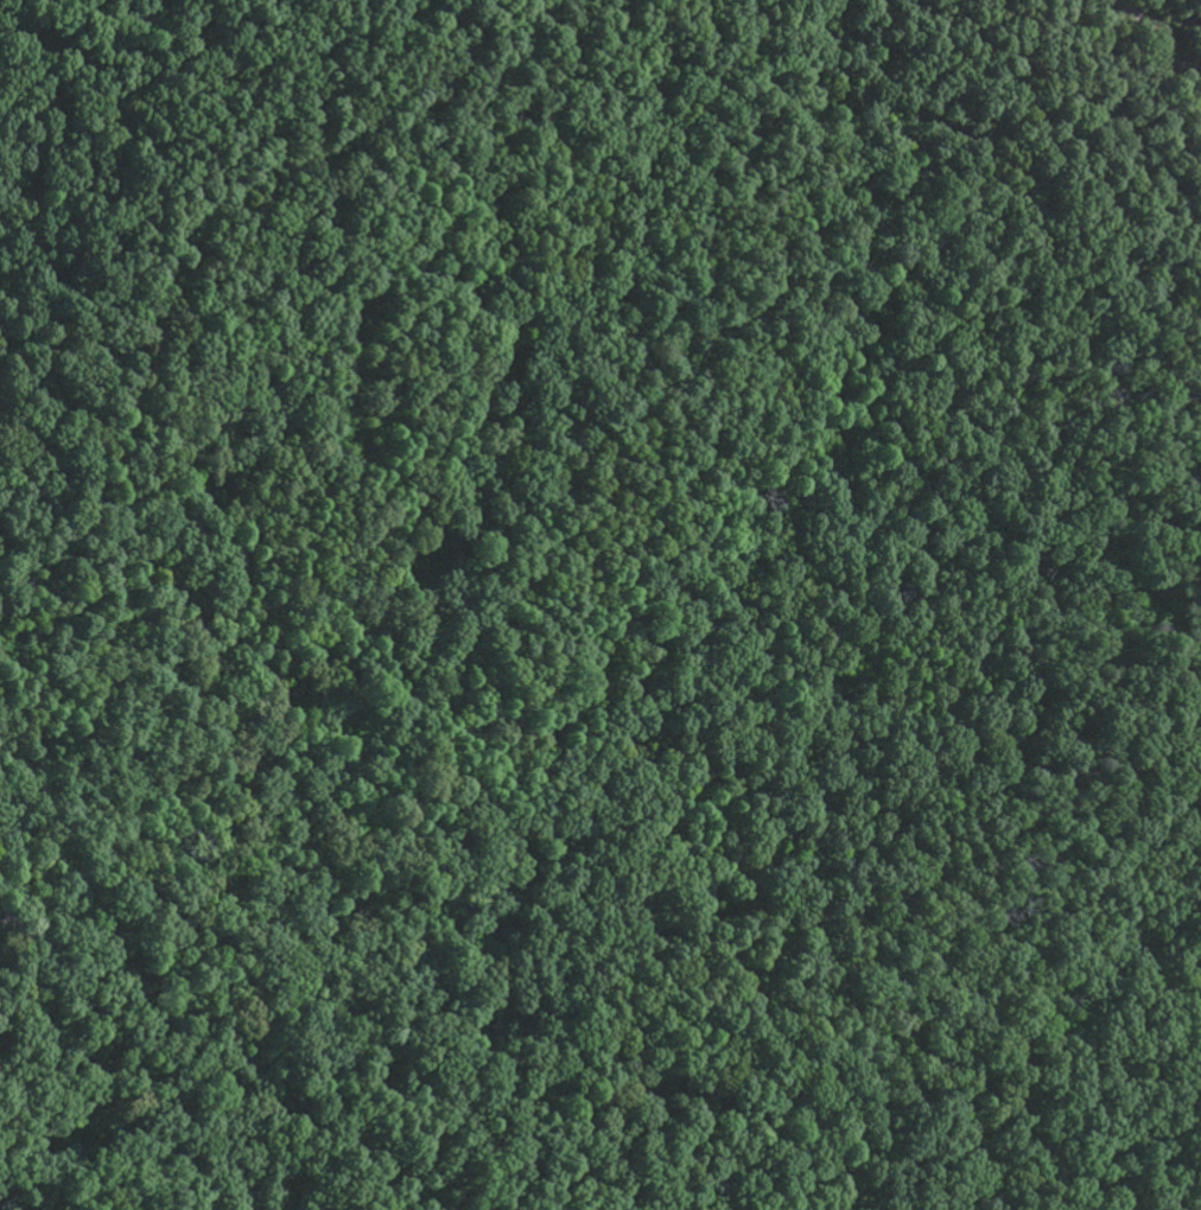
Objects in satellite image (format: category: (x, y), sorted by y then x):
road: (1164, 39)
road: (1192, 509)

